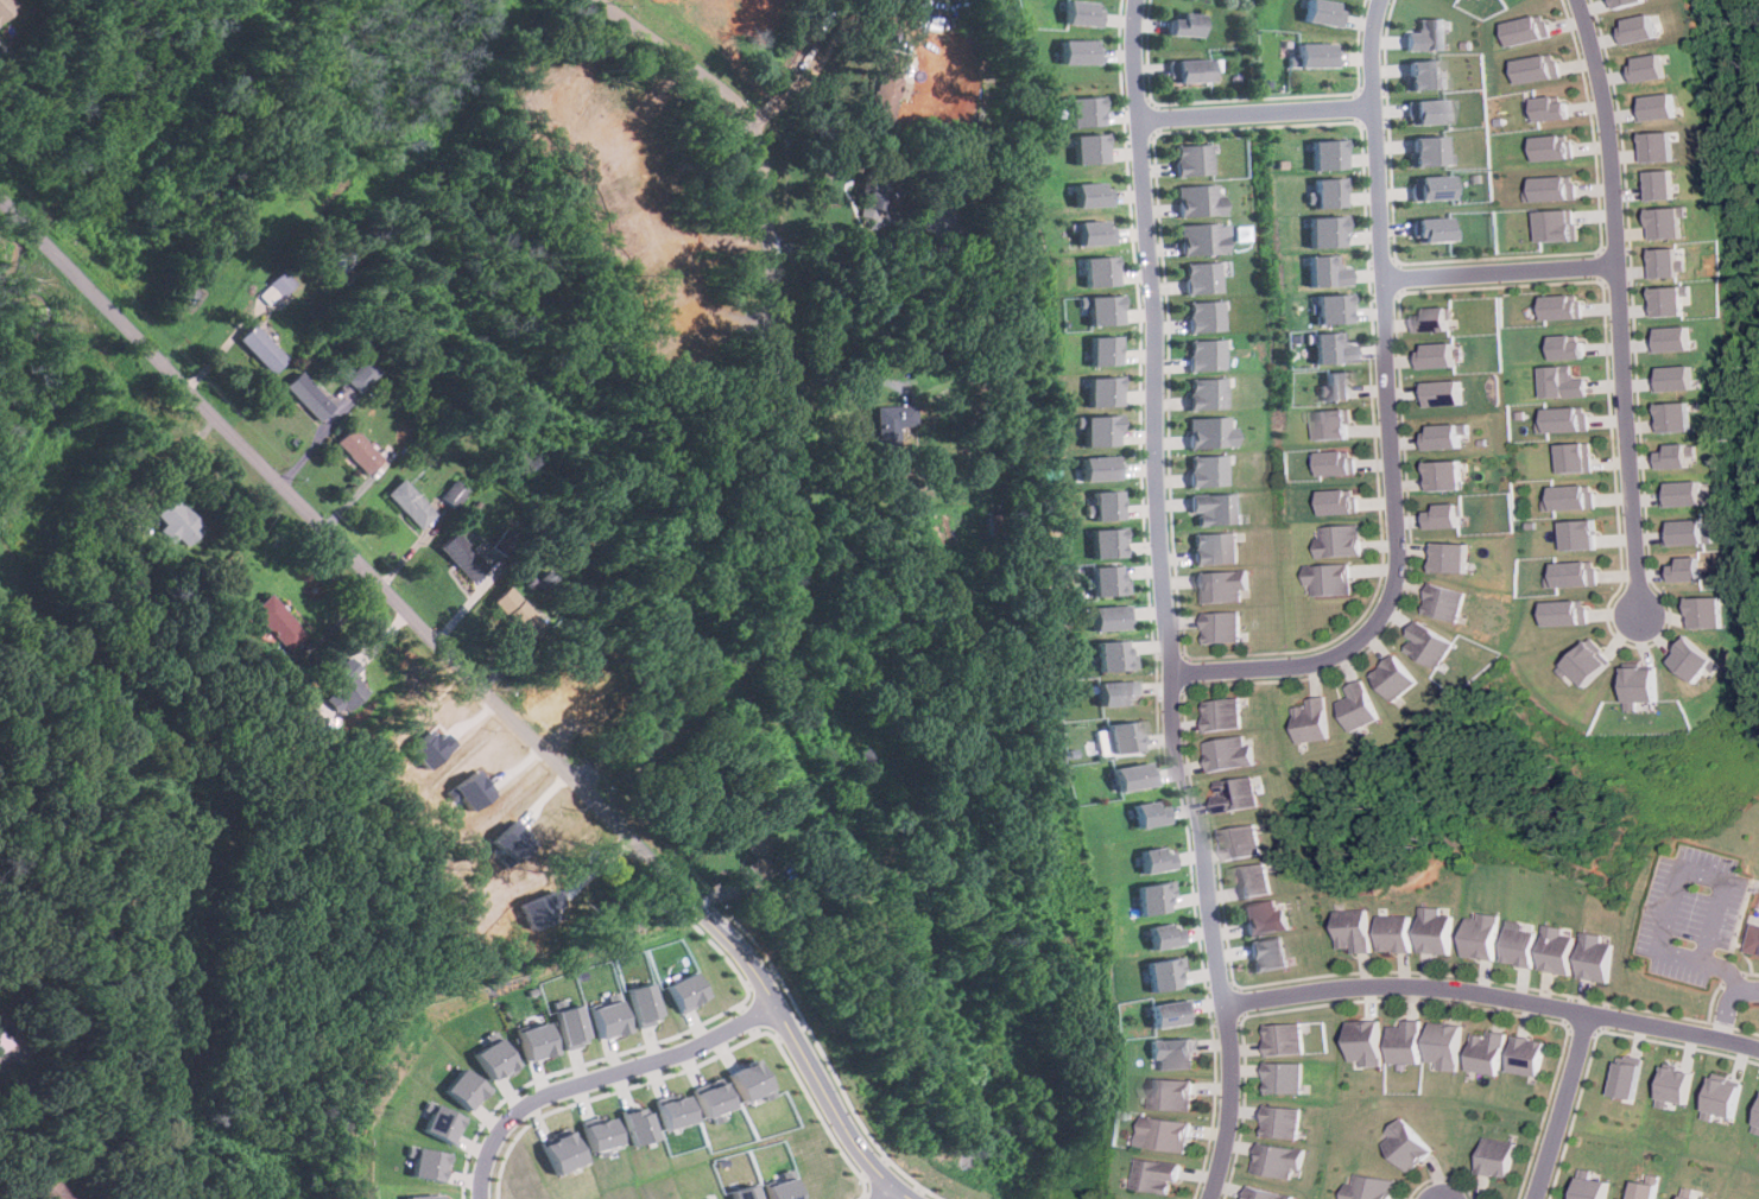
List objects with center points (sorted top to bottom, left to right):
building: (1624, 2)
building: (6, 8)
building: (1083, 12)
building: (1317, 12)
building: (1187, 24)
building: (1637, 27)
building: (1526, 30)
building: (1425, 34)
road: (828, 45)
building: (1078, 51)
building: (1310, 55)
building: (1535, 68)
building: (1645, 68)
building: (1191, 71)
building: (1424, 74)
building: (887, 83)
building: (1653, 107)
building: (1546, 108)
building: (1080, 109)
building: (1425, 110)
road: (1252, 112)
building: (1654, 146)
building: (1550, 147)
building: (1086, 148)
road: (758, 150)
building: (1428, 151)
building: (1323, 153)
building: (1194, 159)
building: (1654, 184)
building: (1430, 186)
building: (878, 188)
building: (1548, 188)
building: (1325, 192)
building: (1089, 194)
building: (1198, 201)
building: (1662, 221)
building: (1552, 224)
building: (1432, 229)
building: (1323, 230)
building: (1089, 231)
building: (1201, 240)
road: (875, 243)
building: (1662, 261)
building: (1094, 271)
building: (1323, 271)
road: (1495, 274)
building: (1200, 277)
building: (280, 283)
building: (1668, 299)
building: (1557, 306)
building: (1094, 307)
building: (1329, 307)
road: (1613, 309)
building: (1202, 315)
building: (1436, 319)
building: (1669, 338)
building: (1564, 347)
building: (1328, 348)
building: (261, 349)
building: (1100, 349)
building: (1204, 354)
building: (1437, 355)
building: (361, 375)
building: (1671, 378)
building: (1559, 381)
building: (1336, 385)
building: (1101, 391)
building: (1442, 393)
building: (1207, 394)
building: (309, 397)
building: (1672, 415)
building: (1561, 419)
building: (1334, 423)
road: (1388, 424)
building: (1100, 429)
building: (1211, 431)
building: (1447, 434)
building: (359, 451)
building: (1675, 456)
building: (1571, 457)
building: (1339, 462)
building: (1103, 467)
building: (1210, 470)
building: (1445, 475)
building: (1681, 493)
building: (454, 494)
building: (1569, 496)
building: (1340, 501)
building: (410, 505)
building: (1107, 505)
building: (1217, 508)
building: (1445, 515)
building: (177, 522)
building: (1683, 532)
building: (1575, 534)
building: (1337, 541)
building: (1109, 543)
building: (1215, 548)
building: (463, 557)
building: (1450, 557)
building: (1683, 569)
building: (1569, 573)
building: (1109, 581)
building: (1327, 581)
building: (1222, 586)
road: (1164, 602)
building: (1441, 603)
building: (515, 611)
building: (1561, 611)
building: (1700, 611)
building: (1112, 617)
building: (278, 622)
building: (1222, 628)
building: (1425, 646)
building: (1114, 655)
building: (1685, 660)
building: (1578, 662)
building: (1393, 679)
building: (344, 684)
building: (1632, 687)
road: (477, 689)
building: (1116, 692)
building: (1359, 706)
building: (1227, 715)
building: (1314, 721)
building: (1115, 736)
building: (1236, 754)
building: (1126, 775)
building: (1242, 794)
building: (1138, 813)
building: (1247, 842)
building: (510, 843)
building: (754, 845)
building: (1145, 859)
building: (1254, 881)
road: (1668, 893)
building: (1147, 896)
building: (539, 908)
building: (1265, 918)
building: (1353, 930)
building: (1432, 930)
building: (1392, 933)
building: (1159, 935)
building: (1479, 937)
building: (1752, 939)
building: (1517, 944)
building: (1552, 950)
building: (1268, 953)
building: (1592, 957)
building: (1160, 972)
building: (689, 991)
road: (1491, 997)
road: (1723, 1001)
building: (646, 1003)
building: (1168, 1013)
building: (612, 1016)
building: (574, 1026)
building: (8, 1030)
building: (1282, 1038)
building: (539, 1040)
building: (1400, 1041)
building: (1362, 1042)
building: (1441, 1046)
building: (1480, 1051)
building: (1171, 1052)
building: (1520, 1054)
road: (6, 1057)
building: (499, 1059)
building: (1280, 1076)
road: (603, 1077)
building: (1618, 1077)
building: (749, 1080)
building: (1668, 1086)
building: (468, 1087)
building: (1170, 1093)
building: (713, 1099)
building: (1717, 1099)
road: (1551, 1106)
building: (676, 1111)
building: (1278, 1121)
building: (1755, 1122)
building: (444, 1123)
building: (640, 1124)
building: (1169, 1133)
building: (605, 1135)
building: (1405, 1144)
building: (565, 1150)
building: (1493, 1156)
building: (1278, 1159)
building: (429, 1163)
building: (1162, 1174)
building: (1584, 1186)
building: (1371, 1187)
building: (49, 1190)
building: (779, 1190)
building: (1638, 1190)
building: (741, 1192)
road: (884, 1192)
building: (1266, 1193)
building: (424, 1197)
building: (1683, 1197)

